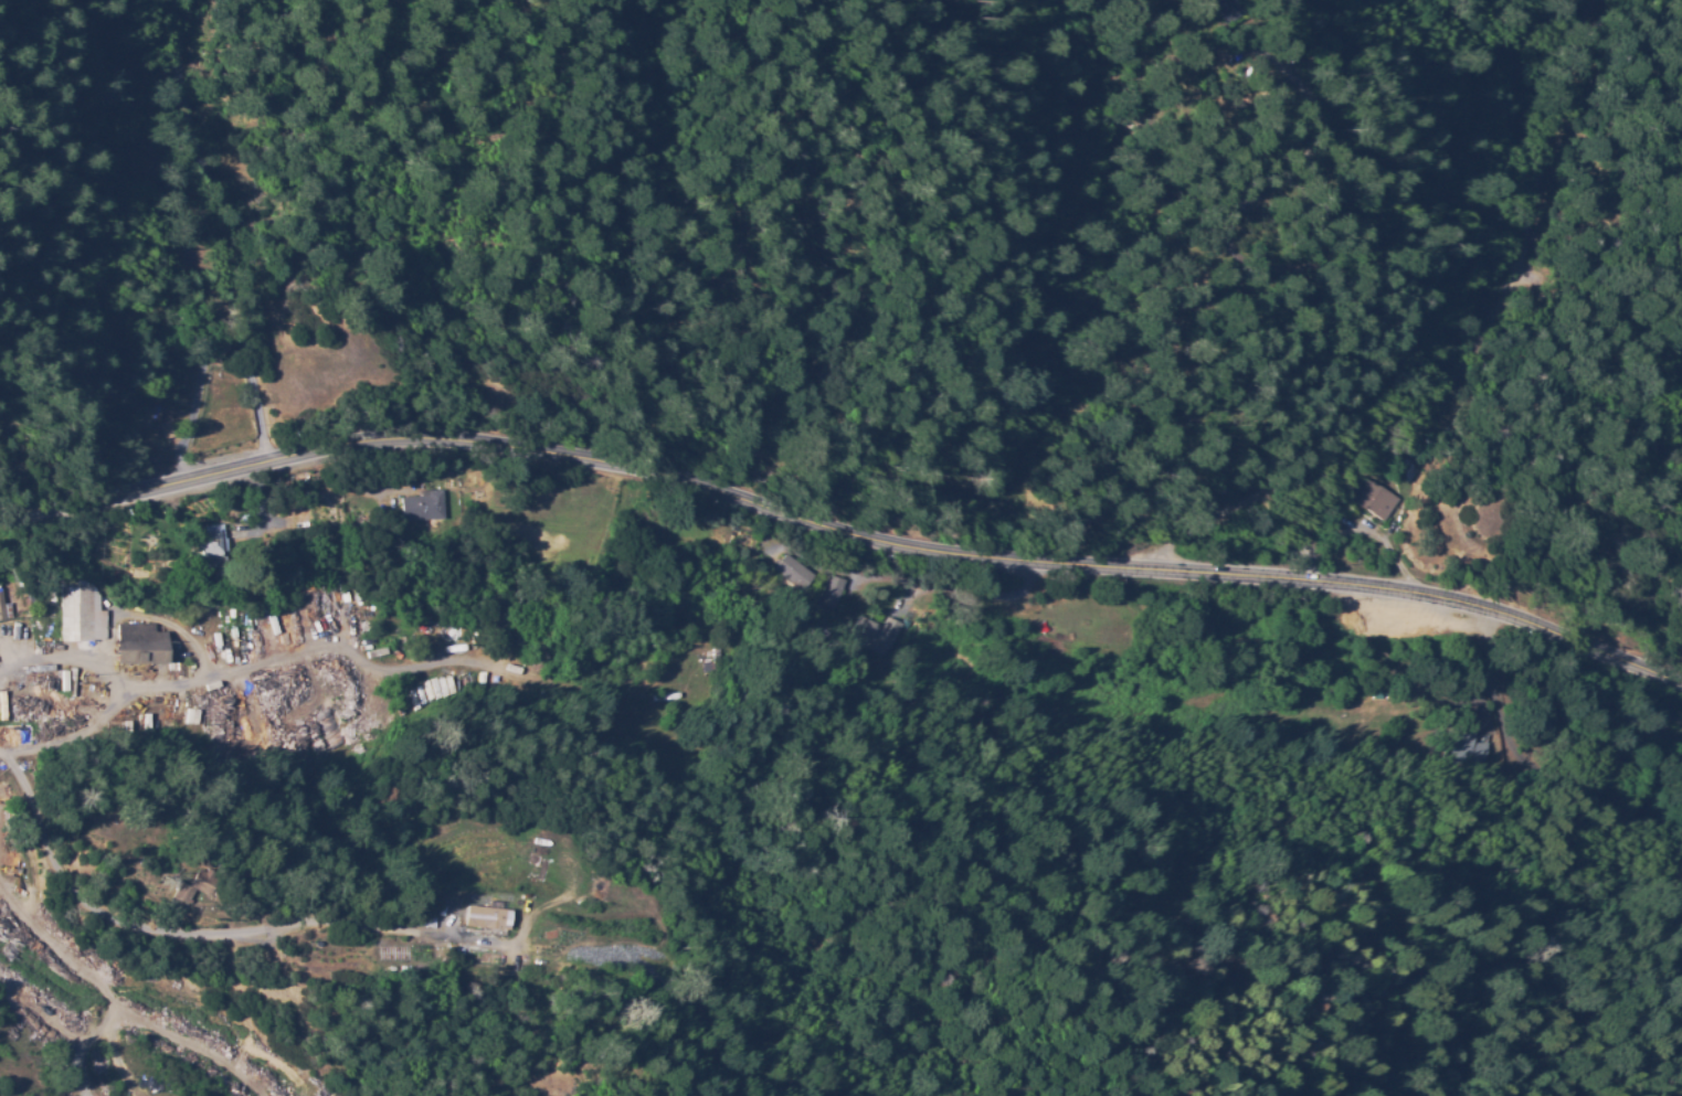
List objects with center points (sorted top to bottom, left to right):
building: (1223, 9)
building: (116, 40)
road: (260, 127)
road: (1625, 260)
road: (822, 263)
building: (172, 429)
building: (1415, 467)
building: (1377, 498)
building: (424, 508)
road: (840, 534)
building: (229, 541)
building: (210, 545)
road: (1640, 567)
building: (796, 574)
building: (835, 593)
building: (29, 600)
building: (3, 611)
building: (46, 617)
building: (84, 617)
building: (879, 635)
building: (141, 646)
road: (35, 660)
building: (711, 667)
building: (49, 669)
building: (1379, 695)
road: (80, 719)
building: (1473, 751)
building: (203, 885)
building: (174, 893)
building: (489, 915)
road: (183, 938)

